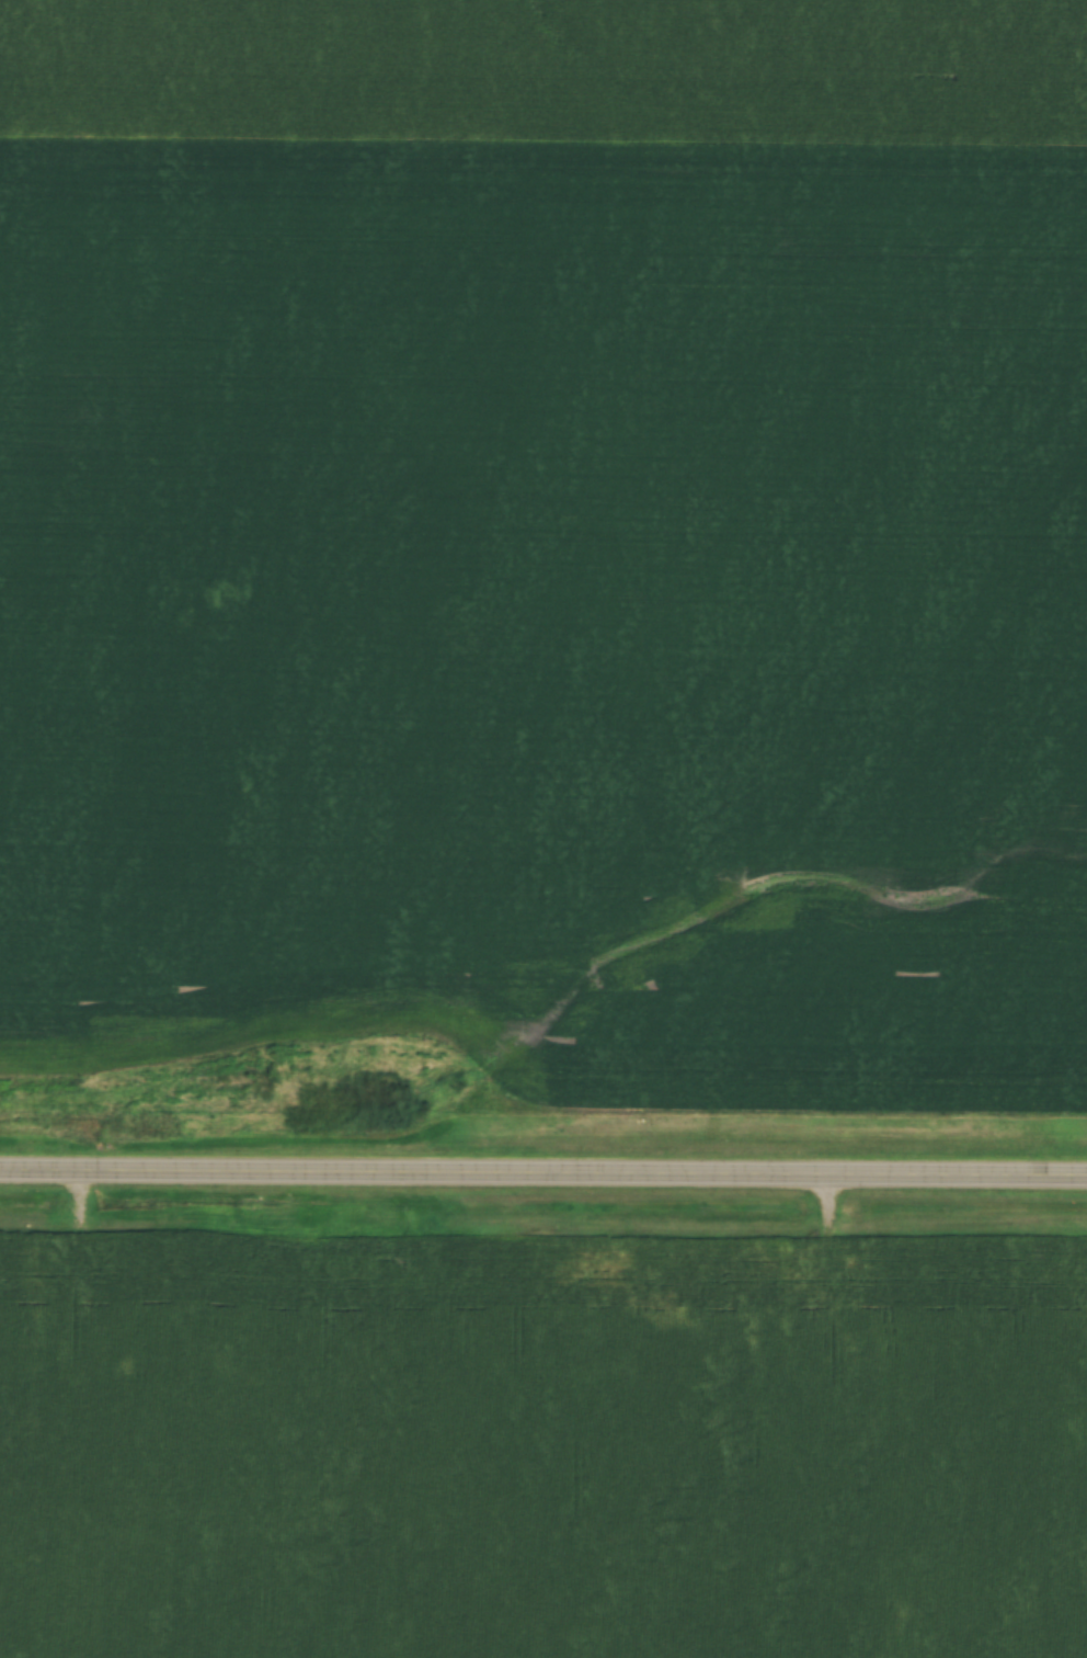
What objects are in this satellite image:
road: (543, 1179)

